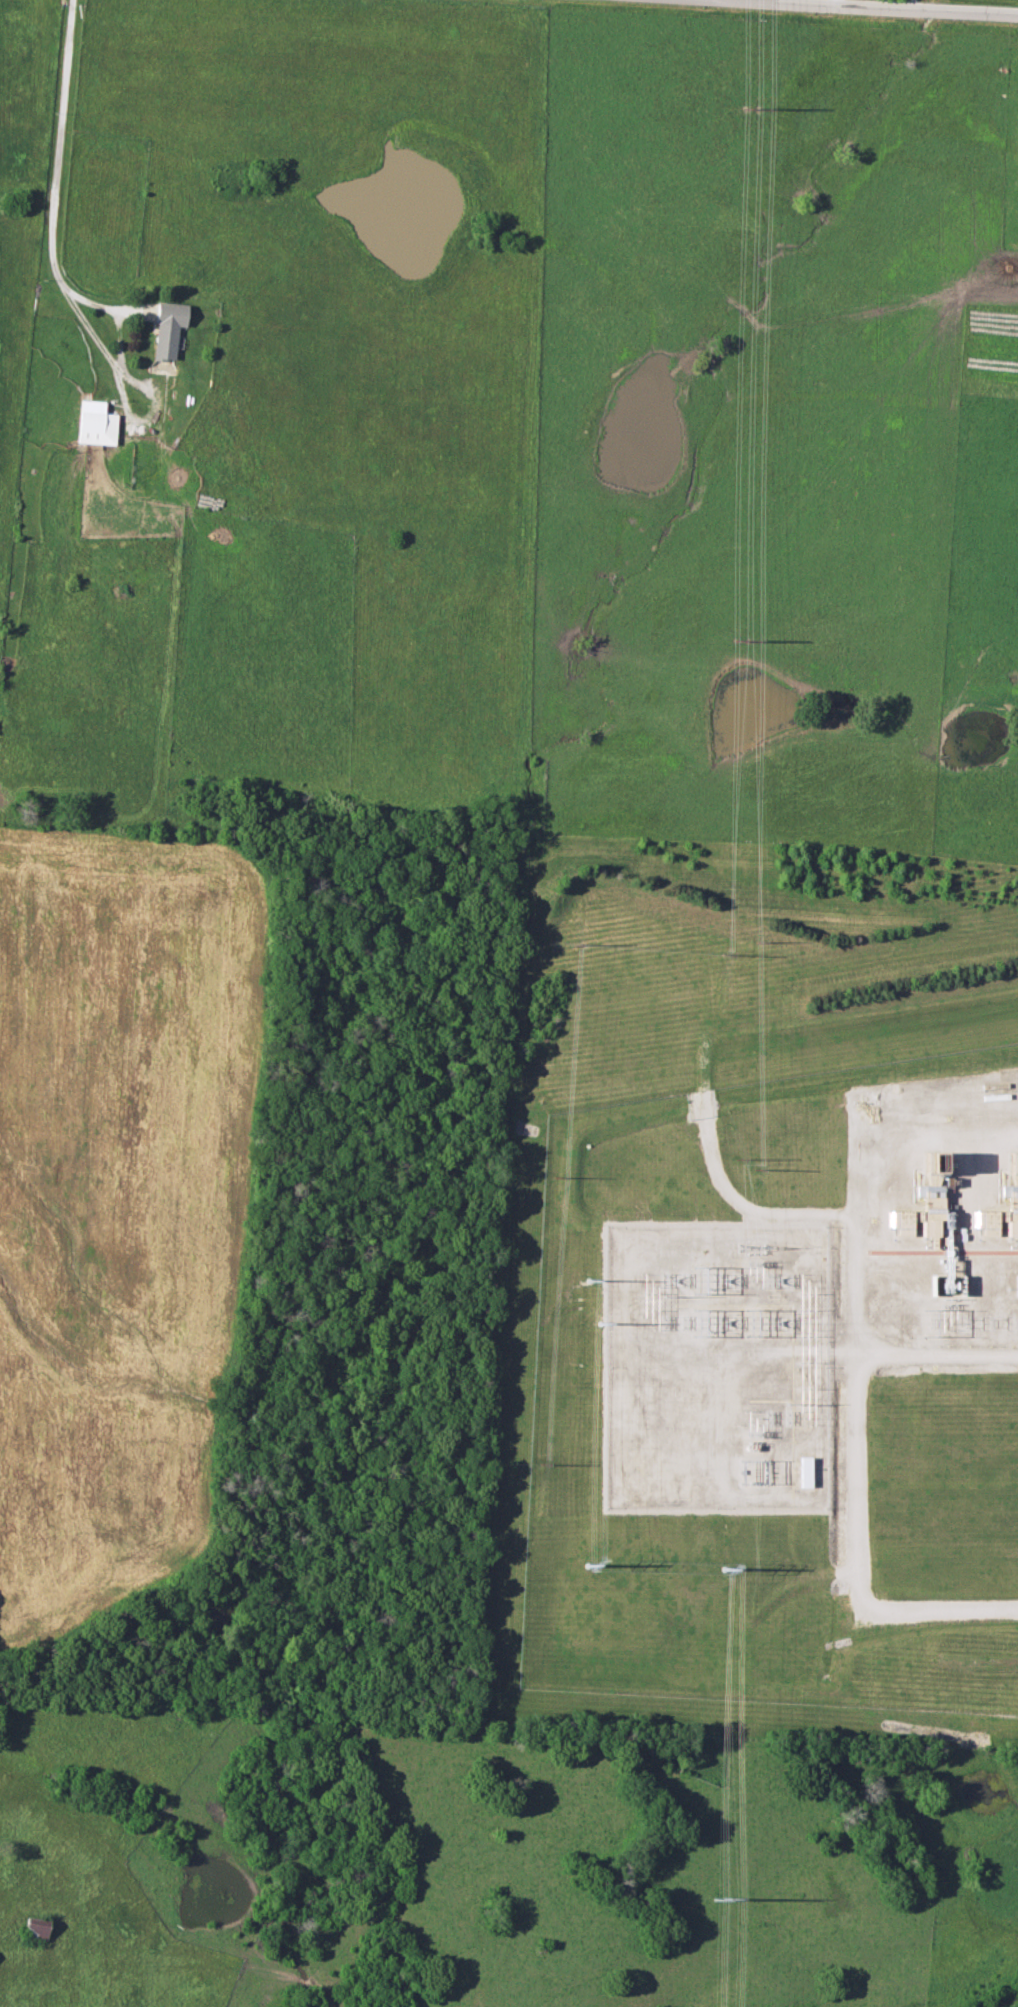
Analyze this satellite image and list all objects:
road: (704, 1)
road: (834, 4)
road: (911, 7)
road: (843, 9)
power tower: (747, 110)
road: (55, 173)
building: (165, 330)
building: (94, 424)
power tower: (739, 642)
power tower: (753, 942)
chimney: (937, 1162)
power tower: (751, 1167)
building: (932, 1180)
building: (1002, 1215)
building: (946, 1220)
power tower: (751, 1249)
power tower: (588, 1281)
power tower: (661, 1281)
power tower: (661, 1323)
power tower: (598, 1324)
power substation: (712, 1365)
power plant: (782, 1392)
building: (804, 1472)
power tower: (587, 1570)
power tower: (722, 1570)
power tower: (717, 1901)
building: (33, 1929)

